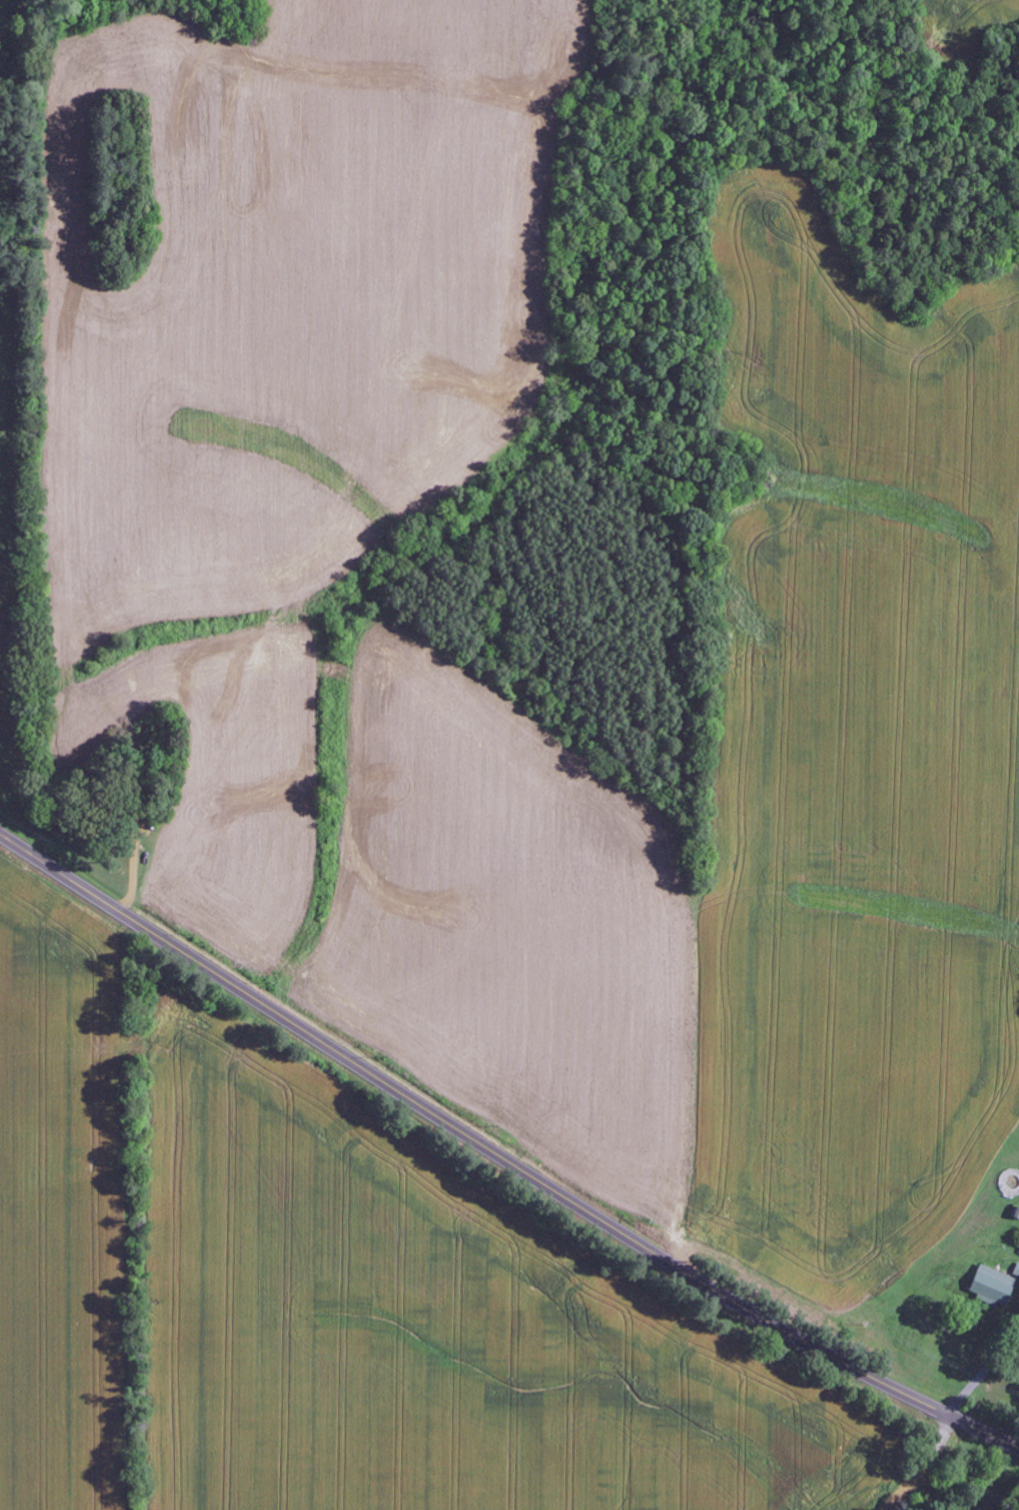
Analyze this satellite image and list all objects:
road: (499, 1155)
building: (1015, 1214)
building: (1018, 1252)
building: (989, 1286)
road: (921, 1466)

